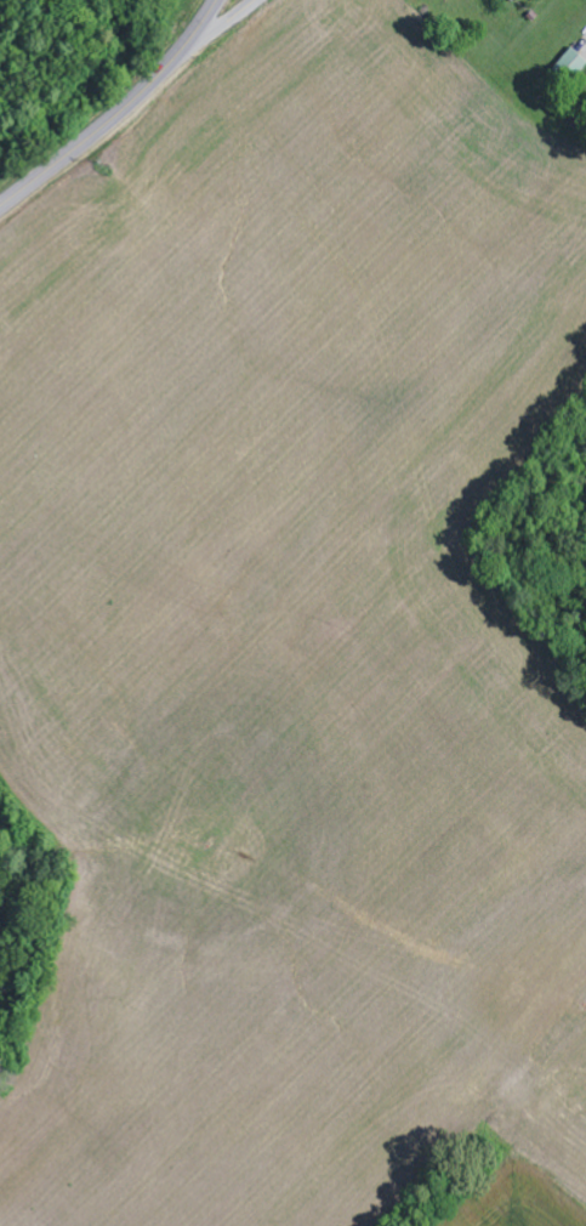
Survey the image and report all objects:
road: (215, 32)
building: (573, 66)
road: (119, 115)

